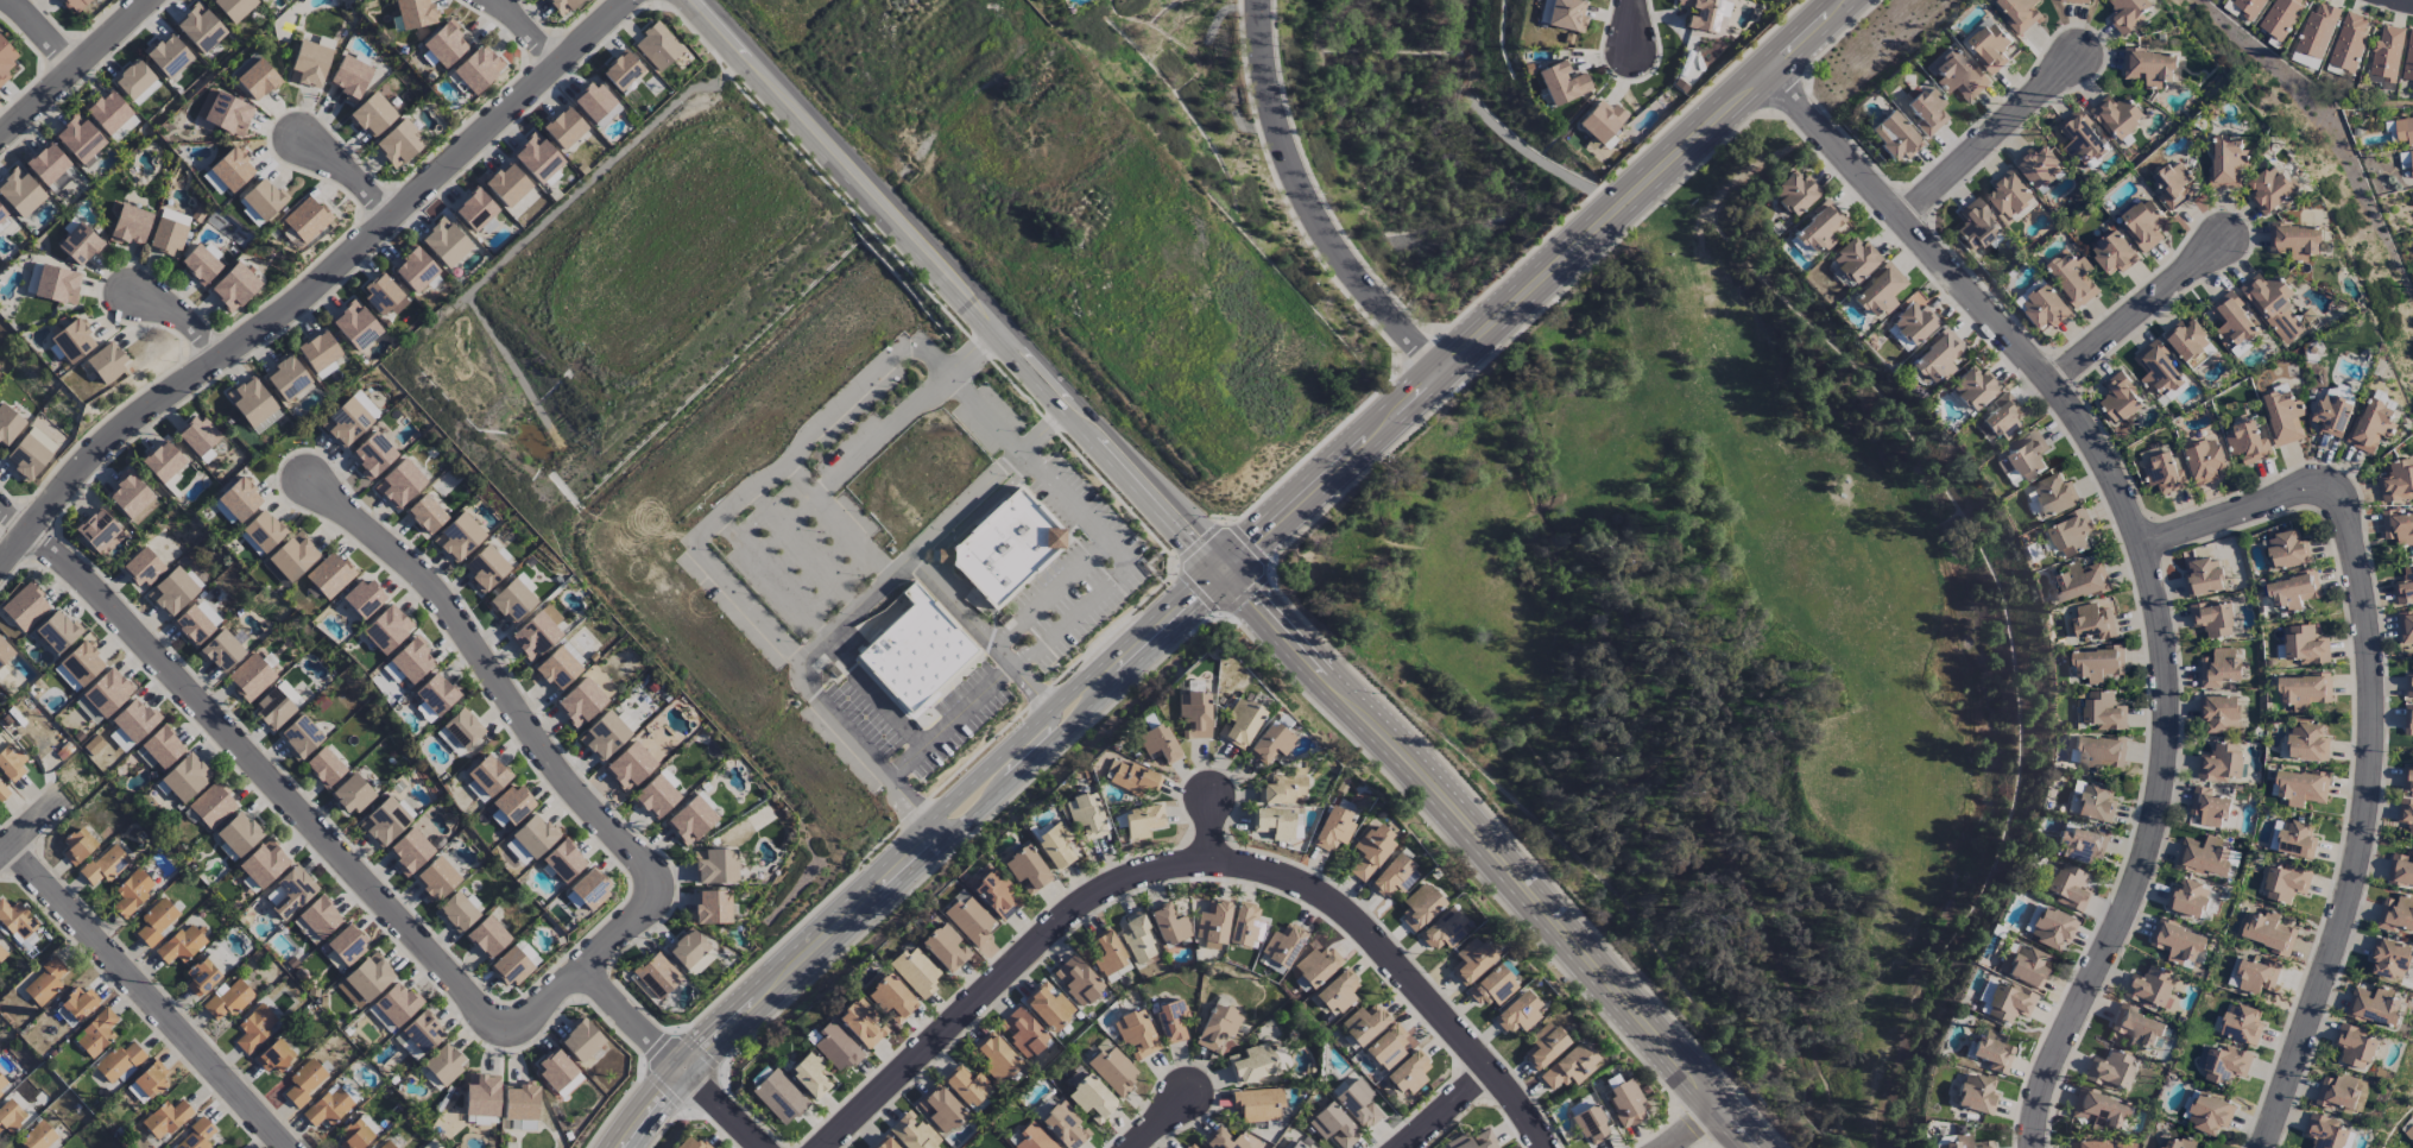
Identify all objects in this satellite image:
building: (2076, 1)
road: (2398, 1)
building: (75, 5)
building: (563, 5)
building: (234, 7)
building: (2250, 8)
building: (413, 13)
building: (1705, 13)
building: (1564, 14)
building: (2019, 14)
building: (2128, 14)
building: (2280, 18)
road: (1636, 25)
building: (200, 27)
road: (44, 31)
road: (531, 31)
building: (2317, 31)
building: (2349, 43)
building: (444, 44)
building: (657, 46)
building: (1989, 48)
building: (2387, 53)
building: (168, 56)
building: (5, 59)
building: (2408, 59)
building: (2304, 61)
building: (309, 64)
road: (72, 68)
building: (2149, 68)
building: (478, 69)
building: (620, 70)
building: (1958, 75)
building: (255, 77)
building: (349, 77)
building: (135, 81)
building: (1561, 83)
building: (595, 103)
building: (1927, 111)
building: (108, 112)
building: (225, 112)
building: (373, 114)
building: (2116, 115)
building: (1599, 121)
building: (563, 127)
building: (124, 128)
building: (2403, 132)
building: (1894, 135)
road: (1994, 137)
building: (78, 138)
building: (2080, 138)
building: (399, 143)
building: (537, 157)
building: (2406, 160)
building: (2228, 162)
building: (50, 168)
building: (2038, 168)
building: (230, 169)
road: (349, 174)
building: (213, 182)
building: (507, 184)
building: (2174, 185)
building: (2270, 190)
building: (20, 191)
building: (1794, 191)
building: (2009, 195)
building: (263, 198)
road: (1310, 206)
building: (475, 209)
building: (1, 213)
building: (303, 221)
building: (130, 225)
building: (2143, 225)
building: (1976, 226)
building: (1819, 228)
building: (166, 236)
building: (2295, 241)
building: (444, 242)
building: (78, 244)
building: (2112, 253)
building: (1855, 259)
building: (200, 264)
building: (415, 269)
building: (2072, 278)
building: (52, 283)
road: (314, 285)
road: (954, 285)
building: (234, 286)
road: (1536, 286)
building: (1880, 291)
building: (384, 295)
building: (2042, 305)
building: (2273, 307)
road: (2142, 310)
road: (183, 318)
building: (2232, 320)
building: (354, 324)
building: (1913, 324)
building: (71, 340)
building: (2188, 345)
building: (318, 351)
building: (106, 361)
building: (2158, 370)
building: (286, 378)
building: (1973, 387)
building: (2120, 399)
building: (253, 404)
building: (366, 404)
building: (2331, 415)
building: (2003, 416)
building: (2283, 417)
building: (346, 422)
building: (8, 424)
building: (2371, 425)
building: (196, 435)
building: (2247, 443)
building: (372, 454)
building: (2027, 455)
building: (26, 456)
building: (162, 461)
building: (2204, 461)
building: (2164, 474)
building: (2398, 482)
building: (399, 484)
building: (2054, 496)
building: (131, 498)
building: (239, 499)
road: (966, 504)
building: (425, 515)
road: (1091, 524)
building: (2398, 526)
building: (263, 530)
building: (99, 531)
building: (2070, 534)
building: (459, 536)
building: (1006, 545)
building: (2286, 551)
road: (701, 553)
building: (292, 556)
road: (2144, 557)
building: (141, 567)
building: (485, 567)
building: (273, 573)
building: (329, 575)
building: (2204, 578)
building: (2080, 582)
building: (2405, 587)
building: (172, 592)
building: (2293, 592)
building: (364, 598)
building: (511, 600)
building: (25, 607)
road: (852, 611)
road: (960, 612)
building: (2212, 619)
building: (196, 622)
building: (2093, 623)
building: (386, 627)
building: (2406, 627)
building: (57, 631)
building: (537, 632)
park: (1731, 645)
building: (2305, 645)
building: (221, 651)
building: (4, 652)
building: (916, 652)
building: (408, 662)
building: (2097, 664)
building: (78, 666)
building: (557, 668)
building: (2219, 668)
building: (251, 676)
building: (2409, 687)
building: (107, 692)
building: (2304, 692)
building: (436, 694)
road: (1066, 696)
building: (580, 701)
building: (277, 705)
building: (424, 712)
road: (1084, 712)
building: (2104, 712)
building: (1194, 714)
building: (2219, 714)
building: (134, 719)
building: (2408, 720)
building: (1240, 723)
road: (2369, 723)
road: (524, 725)
road: (950, 726)
building: (459, 732)
building: (604, 736)
building: (301, 737)
building: (120, 739)
building: (1270, 743)
building: (1157, 744)
building: (2307, 744)
building: (159, 749)
road: (1021, 753)
building: (2097, 753)
building: (12, 763)
building: (2221, 763)
building: (628, 765)
building: (323, 767)
building: (185, 777)
building: (486, 777)
building: (1132, 777)
building: (2408, 778)
building: (1283, 788)
building: (2301, 788)
building: (2, 793)
building: (352, 793)
building: (656, 796)
building: (2095, 803)
building: (213, 806)
building: (510, 806)
building: (2209, 808)
building: (1085, 814)
building: (2406, 814)
building: (690, 820)
building: (384, 821)
building: (1141, 821)
building: (1274, 822)
road: (32, 826)
road: (1211, 826)
building: (1296, 826)
building: (1333, 828)
building: (239, 833)
building: (533, 835)
building: (2297, 840)
building: (1053, 844)
building: (2083, 844)
building: (77, 845)
building: (409, 850)
building: (517, 851)
building: (1371, 851)
road: (1496, 854)
building: (2203, 856)
building: (563, 860)
road: (1192, 862)
building: (264, 863)
building: (105, 865)
building: (714, 865)
building: (1025, 869)
building: (2401, 870)
building: (1394, 876)
building: (435, 878)
building: (2286, 883)
building: (2067, 887)
building: (590, 888)
building: (132, 891)
building: (292, 891)
road: (373, 895)
building: (996, 895)
building: (2188, 898)
building: (1420, 906)
building: (712, 907)
building: (456, 912)
building: (2396, 914)
building: (320, 917)
building: (17, 920)
building: (157, 920)
building: (968, 920)
building: (1168, 925)
building: (1213, 925)
building: (1245, 926)
building: (2052, 928)
building: (1442, 929)
building: (2267, 933)
building: (487, 936)
building: (1138, 938)
building: (181, 944)
building: (346, 944)
building: (2178, 944)
building: (1282, 945)
building: (945, 947)
building: (687, 948)
building: (526, 952)
building: (2, 953)
building: (1107, 953)
building: (2390, 959)
building: (1471, 961)
building: (1316, 965)
building: (2023, 965)
building: (510, 966)
building: (915, 971)
building: (656, 974)
building: (2256, 976)
building: (202, 977)
building: (365, 980)
building: (1078, 980)
building: (45, 982)
road: (769, 986)
building: (1491, 986)
building: (2150, 988)
building: (1339, 990)
road: (149, 997)
building: (891, 998)
building: (226, 999)
building: (2005, 1002)
building: (80, 1003)
building: (393, 1007)
building: (2374, 1007)
building: (1049, 1008)
building: (1517, 1011)
building: (65, 1016)
building: (1171, 1021)
building: (861, 1023)
building: (1364, 1023)
building: (2241, 1024)
building: (1218, 1026)
building: (254, 1027)
building: (2137, 1028)
building: (97, 1032)
building: (422, 1032)
building: (1023, 1032)
building: (1136, 1034)
building: (581, 1040)
building: (1542, 1045)
building: (408, 1046)
building: (835, 1047)
building: (1386, 1047)
building: (2355, 1047)
building: (1992, 1051)
building: (274, 1055)
building: (994, 1056)
building: (120, 1061)
building: (443, 1062)
building: (1252, 1064)
building: (2223, 1064)
building: (1567, 1066)
building: (2109, 1070)
building: (1113, 1071)
building: (1408, 1072)
building: (557, 1073)
building: (809, 1074)
building: (2, 1080)
building: (147, 1081)
building: (304, 1081)
building: (966, 1085)
building: (0, 1092)
building: (2338, 1092)
building: (481, 1095)
building: (1976, 1095)
building: (778, 1097)
building: (1091, 1098)
building: (520, 1102)
building: (1625, 1103)
building: (1257, 1104)
building: (1358, 1104)
building: (328, 1106)
road: (1447, 1106)
building: (940, 1109)
building: (2098, 1109)
building: (2210, 1115)
building: (10, 1116)
building: (165, 1118)
road: (1160, 1118)
building: (478, 1119)
building: (523, 1124)
building: (1590, 1124)
building: (1065, 1125)
building: (1332, 1125)
road: (1693, 1125)
building: (912, 1131)
building: (2324, 1133)
building: (354, 1135)
building: (2409, 1135)
building: (196, 1136)
building: (38, 1137)
building: (1032, 1138)
building: (1223, 1140)
building: (1472, 1141)
building: (693, 1143)
building: (884, 1143)
building: (2179, 1143)
building: (385, 1144)
building: (1296, 1144)
building: (2089, 1144)
building: (1315, 1147)

